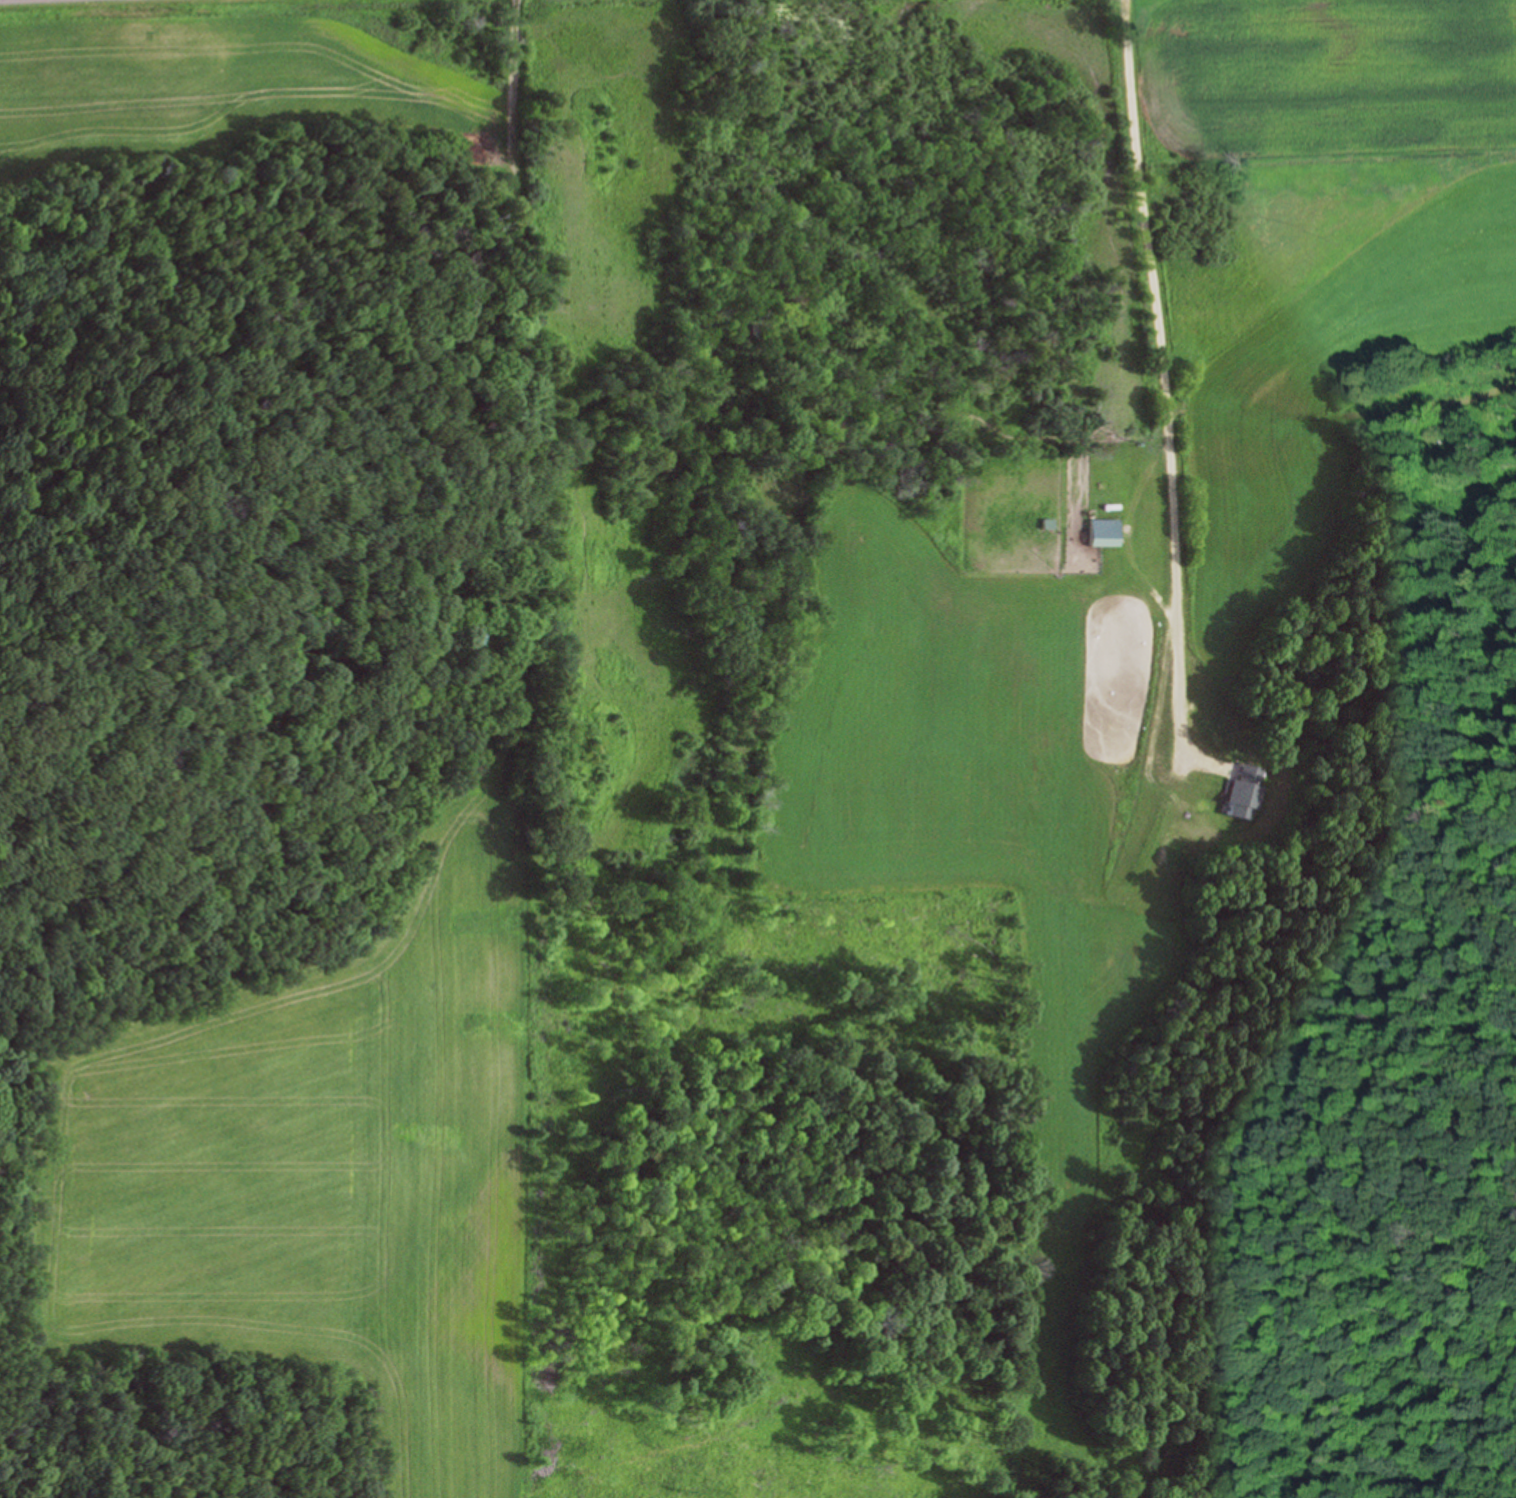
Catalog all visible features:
crop: (212, 76)
crop: (1305, 257)
road: (1161, 378)
building: (1104, 532)
crop: (982, 783)
building: (1242, 792)
crop: (327, 1172)

